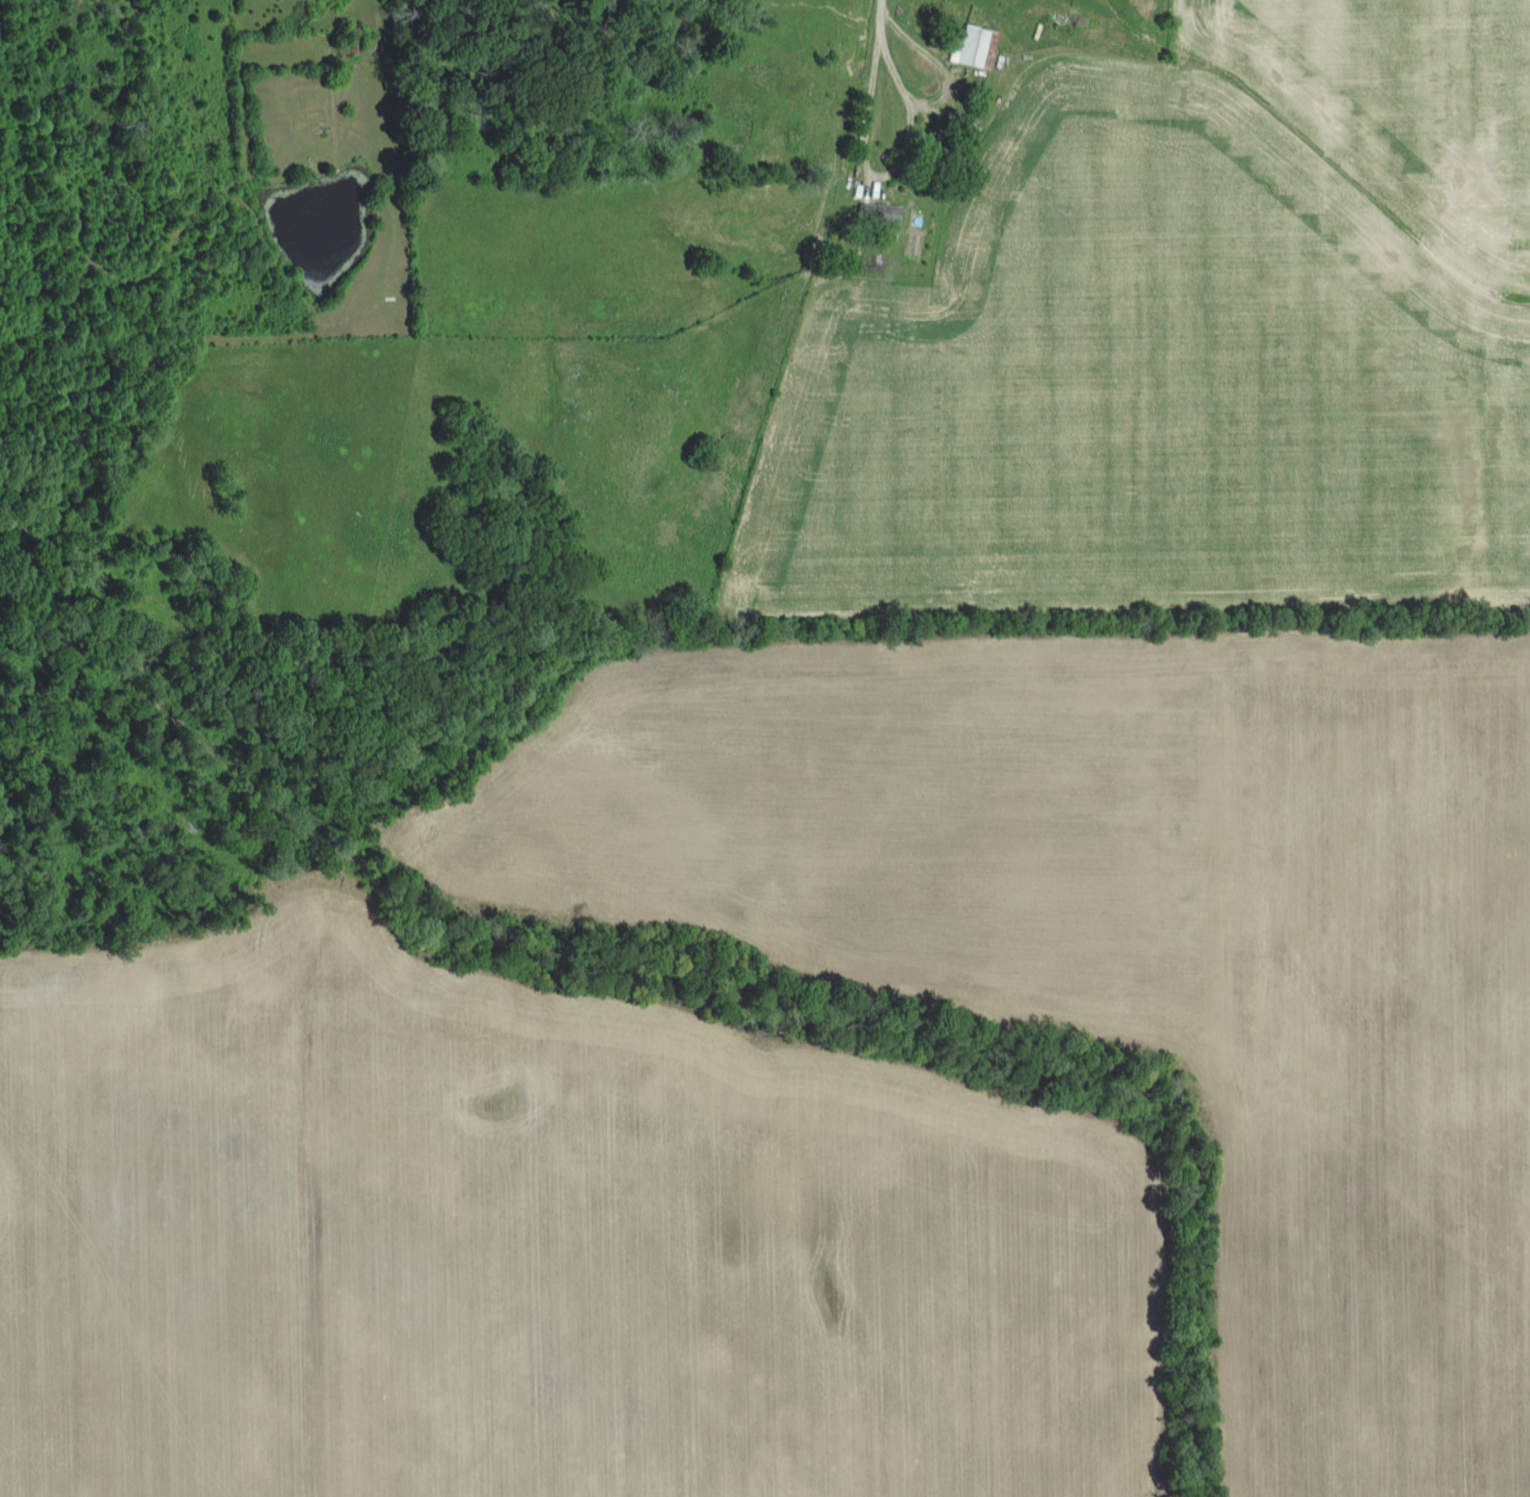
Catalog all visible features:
building: (350, 41)
building: (973, 48)
building: (877, 214)

